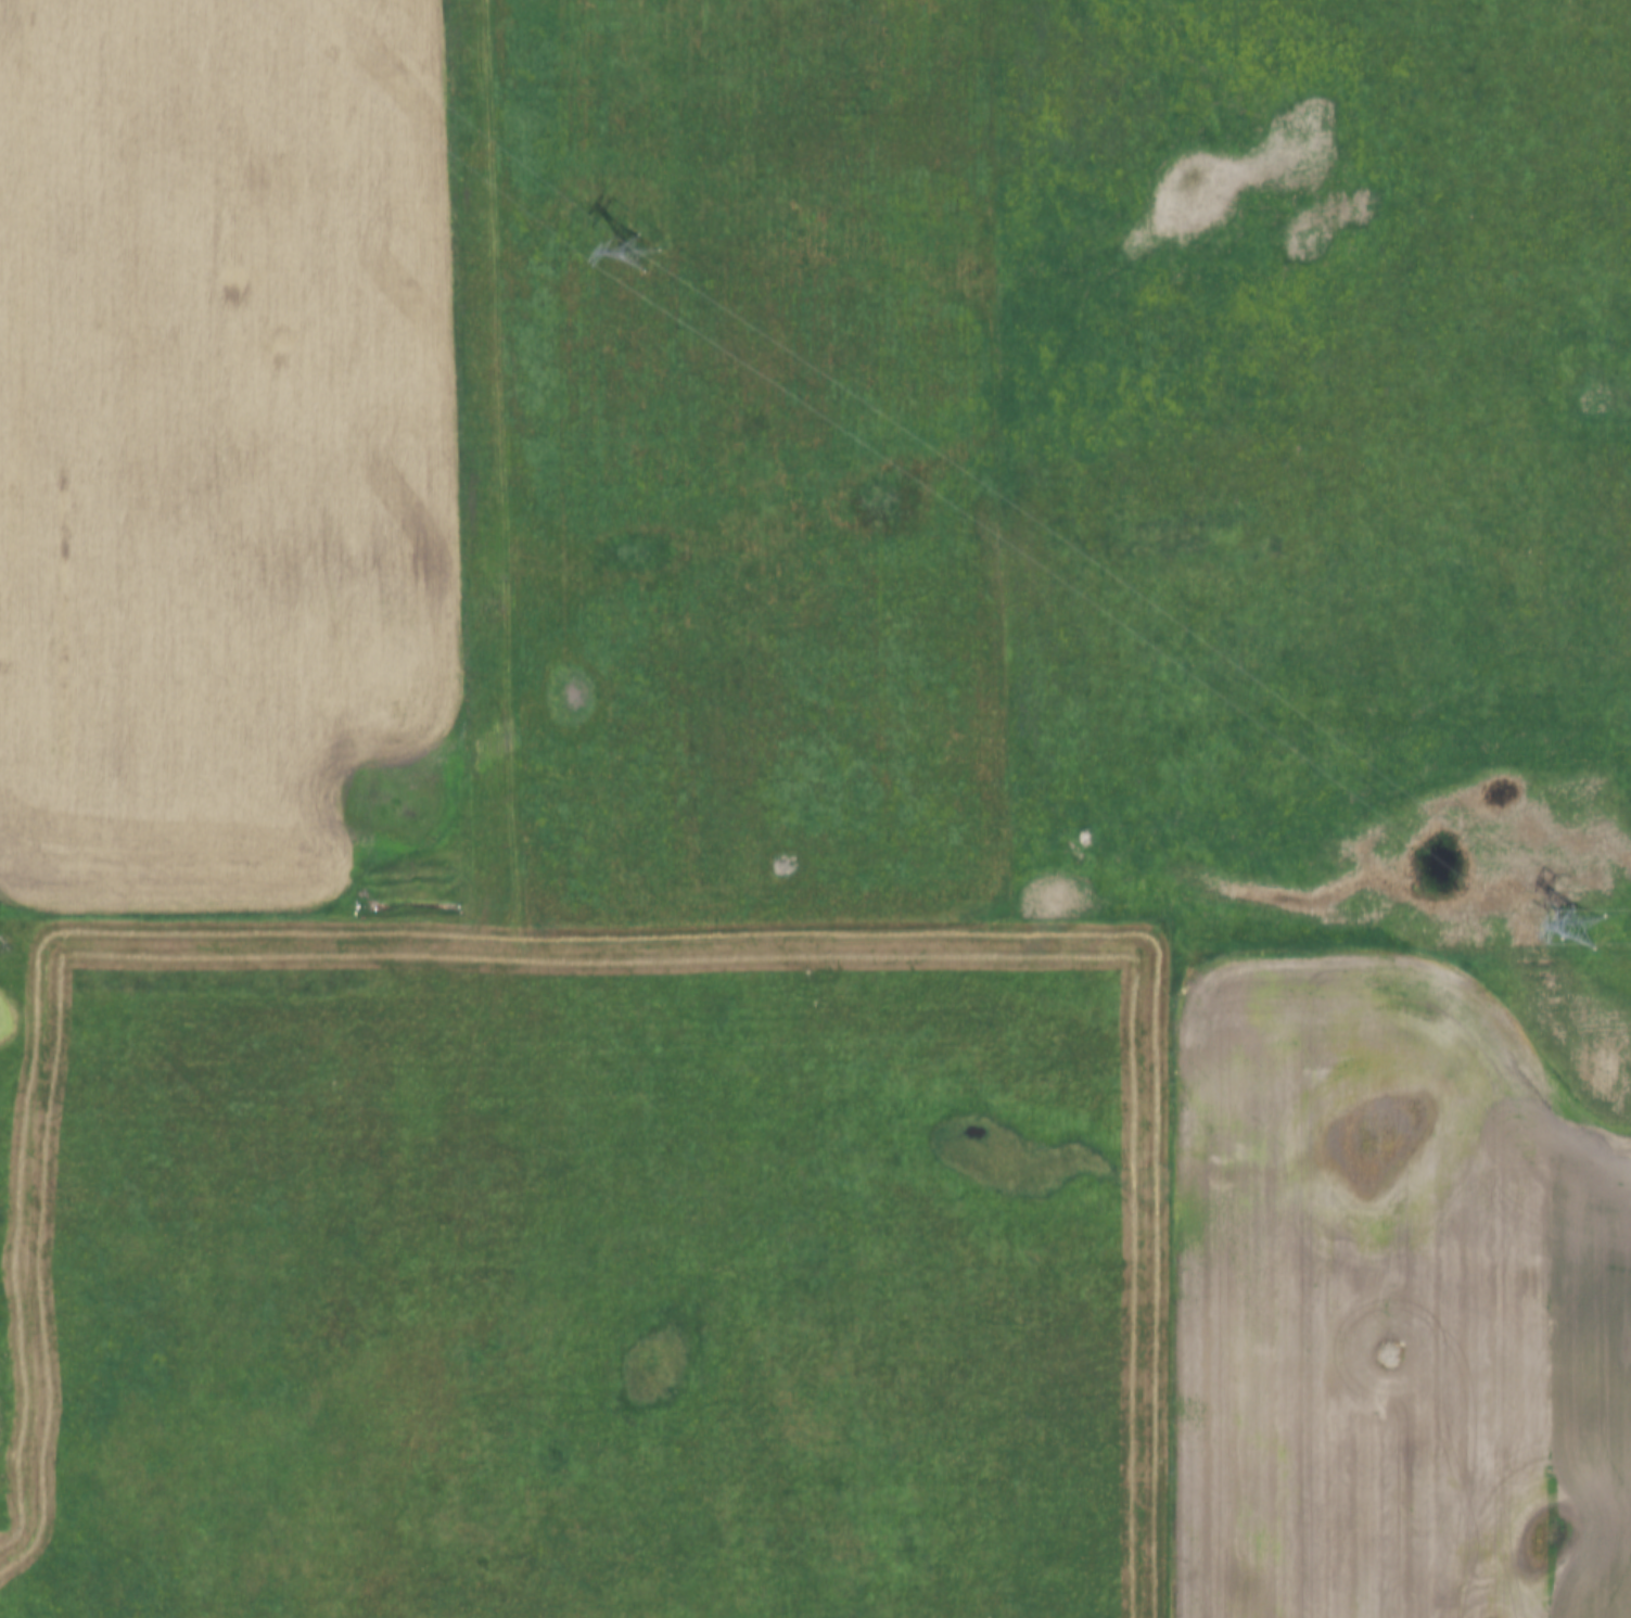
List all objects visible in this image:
power tower: (627, 256)
power tower: (1589, 935)

